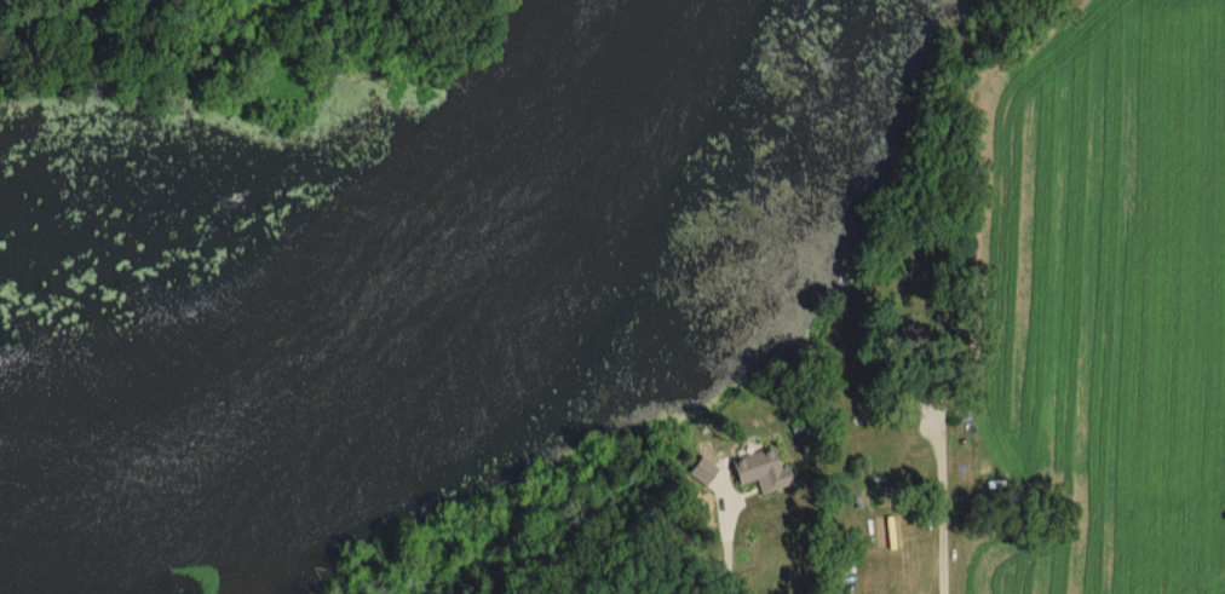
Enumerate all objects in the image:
river: (430, 296)
building: (758, 472)
road: (937, 531)
road: (724, 532)

